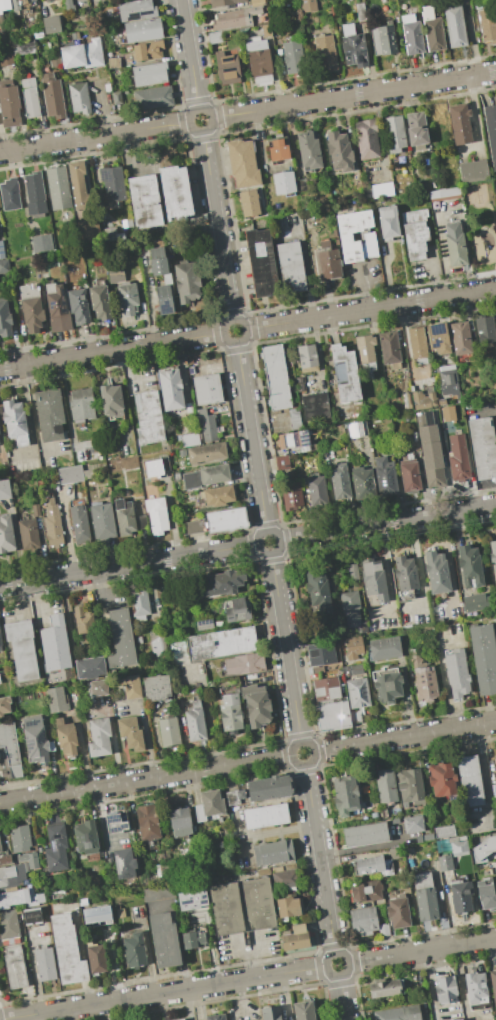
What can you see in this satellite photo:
building: (29, 0)
building: (44, 0)
building: (51, 0)
building: (225, 2)
building: (256, 3)
building: (4, 5)
building: (68, 6)
building: (307, 6)
building: (137, 10)
building: (360, 12)
building: (235, 18)
building: (0, 22)
building: (51, 24)
building: (487, 24)
building: (455, 25)
building: (432, 29)
building: (143, 30)
building: (412, 34)
building: (74, 36)
building: (215, 37)
building: (383, 40)
building: (23, 47)
building: (353, 47)
building: (128, 48)
building: (148, 50)
building: (325, 52)
building: (92, 53)
road: (190, 55)
building: (72, 56)
building: (6, 57)
building: (293, 57)
building: (258, 61)
building: (113, 62)
building: (227, 68)
building: (149, 74)
road: (353, 95)
building: (52, 96)
building: (79, 97)
building: (115, 97)
building: (30, 98)
building: (153, 98)
building: (9, 105)
road: (105, 108)
road: (209, 114)
building: (460, 124)
building: (416, 129)
building: (491, 131)
building: (394, 133)
road: (95, 137)
building: (367, 139)
building: (278, 150)
building: (308, 150)
building: (339, 152)
building: (242, 163)
building: (296, 163)
building: (473, 171)
building: (283, 183)
building: (78, 185)
building: (112, 185)
building: (58, 187)
building: (382, 190)
building: (452, 192)
building: (175, 193)
building: (10, 194)
building: (35, 194)
building: (144, 201)
building: (248, 203)
building: (387, 222)
road: (492, 223)
road: (217, 224)
park: (481, 224)
building: (88, 230)
building: (415, 234)
building: (369, 236)
building: (36, 244)
building: (455, 244)
building: (1, 250)
building: (158, 261)
building: (328, 261)
building: (261, 263)
building: (4, 266)
building: (290, 267)
building: (115, 272)
building: (187, 281)
building: (50, 288)
road: (363, 288)
building: (127, 298)
building: (164, 300)
building: (99, 302)
building: (78, 305)
building: (31, 307)
road: (370, 309)
building: (58, 310)
building: (4, 319)
road: (244, 326)
building: (484, 329)
building: (438, 338)
building: (460, 338)
building: (417, 344)
building: (270, 349)
road: (111, 350)
building: (389, 350)
building: (307, 356)
building: (365, 356)
building: (272, 357)
building: (273, 365)
road: (134, 368)
building: (274, 373)
building: (345, 373)
building: (448, 380)
building: (276, 381)
building: (300, 383)
building: (277, 388)
building: (170, 389)
building: (207, 389)
road: (123, 396)
building: (278, 397)
building: (424, 399)
building: (111, 400)
building: (406, 401)
building: (442, 401)
building: (280, 404)
building: (81, 405)
building: (315, 406)
road: (481, 411)
building: (448, 413)
building: (49, 414)
road: (68, 416)
road: (34, 418)
building: (293, 418)
building: (149, 419)
road: (494, 419)
building: (15, 422)
road: (29, 423)
building: (208, 429)
building: (357, 429)
road: (251, 436)
building: (296, 439)
building: (190, 440)
building: (482, 448)
building: (304, 449)
building: (206, 452)
building: (430, 453)
building: (164, 463)
building: (459, 467)
building: (153, 470)
building: (90, 473)
building: (70, 474)
building: (409, 474)
building: (177, 476)
building: (205, 476)
building: (385, 477)
building: (362, 479)
building: (339, 482)
building: (4, 489)
building: (316, 490)
building: (218, 495)
building: (291, 497)
building: (35, 509)
building: (156, 514)
building: (124, 518)
building: (226, 520)
building: (52, 522)
building: (102, 522)
building: (142, 522)
road: (387, 522)
building: (79, 525)
building: (193, 526)
building: (28, 534)
building: (6, 535)
road: (277, 537)
building: (493, 556)
road: (129, 564)
building: (470, 566)
building: (353, 572)
building: (436, 572)
building: (405, 573)
road: (417, 573)
building: (374, 580)
road: (386, 580)
building: (220, 583)
road: (101, 590)
building: (320, 592)
road: (495, 595)
building: (475, 603)
building: (139, 604)
building: (351, 608)
building: (237, 609)
building: (83, 621)
building: (204, 625)
building: (428, 628)
building: (121, 639)
building: (139, 640)
building: (157, 641)
building: (222, 643)
building: (54, 644)
building: (353, 644)
building: (1, 645)
road: (286, 647)
building: (21, 649)
building: (385, 649)
building: (415, 652)
building: (320, 653)
building: (483, 658)
building: (243, 664)
building: (90, 668)
building: (346, 669)
building: (317, 670)
road: (442, 672)
building: (456, 673)
building: (63, 680)
building: (387, 684)
building: (425, 684)
building: (130, 686)
building: (156, 687)
building: (98, 688)
building: (326, 689)
building: (358, 692)
building: (57, 699)
road: (205, 699)
building: (256, 705)
building: (4, 706)
building: (231, 713)
building: (332, 716)
building: (355, 717)
building: (195, 722)
building: (169, 731)
building: (130, 733)
road: (146, 736)
building: (66, 737)
building: (99, 737)
road: (404, 737)
building: (35, 740)
road: (115, 747)
road: (311, 748)
building: (9, 752)
building: (495, 759)
building: (495, 770)
road: (481, 777)
road: (146, 779)
building: (442, 780)
building: (470, 781)
building: (410, 786)
building: (386, 787)
building: (268, 788)
building: (493, 789)
building: (345, 795)
building: (234, 797)
building: (211, 803)
building: (198, 813)
building: (265, 816)
building: (147, 822)
building: (180, 822)
building: (115, 824)
building: (413, 824)
road: (275, 831)
building: (444, 832)
building: (366, 834)
building: (85, 837)
building: (428, 837)
building: (20, 839)
building: (194, 840)
road: (238, 844)
road: (368, 845)
building: (458, 845)
building: (482, 846)
building: (55, 849)
building: (0, 850)
building: (272, 852)
building: (395, 852)
building: (447, 854)
building: (5, 859)
road: (319, 859)
building: (29, 860)
building: (124, 863)
building: (444, 863)
building: (24, 866)
building: (373, 866)
building: (161, 870)
building: (6, 874)
building: (284, 878)
building: (405, 885)
building: (365, 891)
building: (158, 893)
building: (487, 894)
building: (460, 896)
building: (15, 897)
building: (425, 897)
building: (190, 899)
building: (258, 903)
building: (288, 907)
building: (226, 908)
building: (397, 911)
building: (120, 913)
building: (96, 914)
building: (32, 916)
building: (363, 920)
building: (8, 924)
building: (384, 930)
building: (295, 938)
building: (164, 939)
building: (193, 940)
building: (2, 942)
building: (67, 950)
building: (133, 950)
road: (428, 950)
building: (95, 957)
road: (249, 957)
road: (345, 959)
road: (148, 960)
road: (354, 962)
building: (45, 963)
building: (14, 967)
road: (34, 971)
road: (460, 983)
building: (493, 984)
road: (428, 985)
building: (386, 988)
building: (475, 988)
building: (445, 989)
road: (163, 993)
road: (342, 997)
building: (304, 1010)
building: (270, 1013)
building: (399, 1013)
building: (216, 1017)
building: (181, 1019)
building: (458, 1019)

